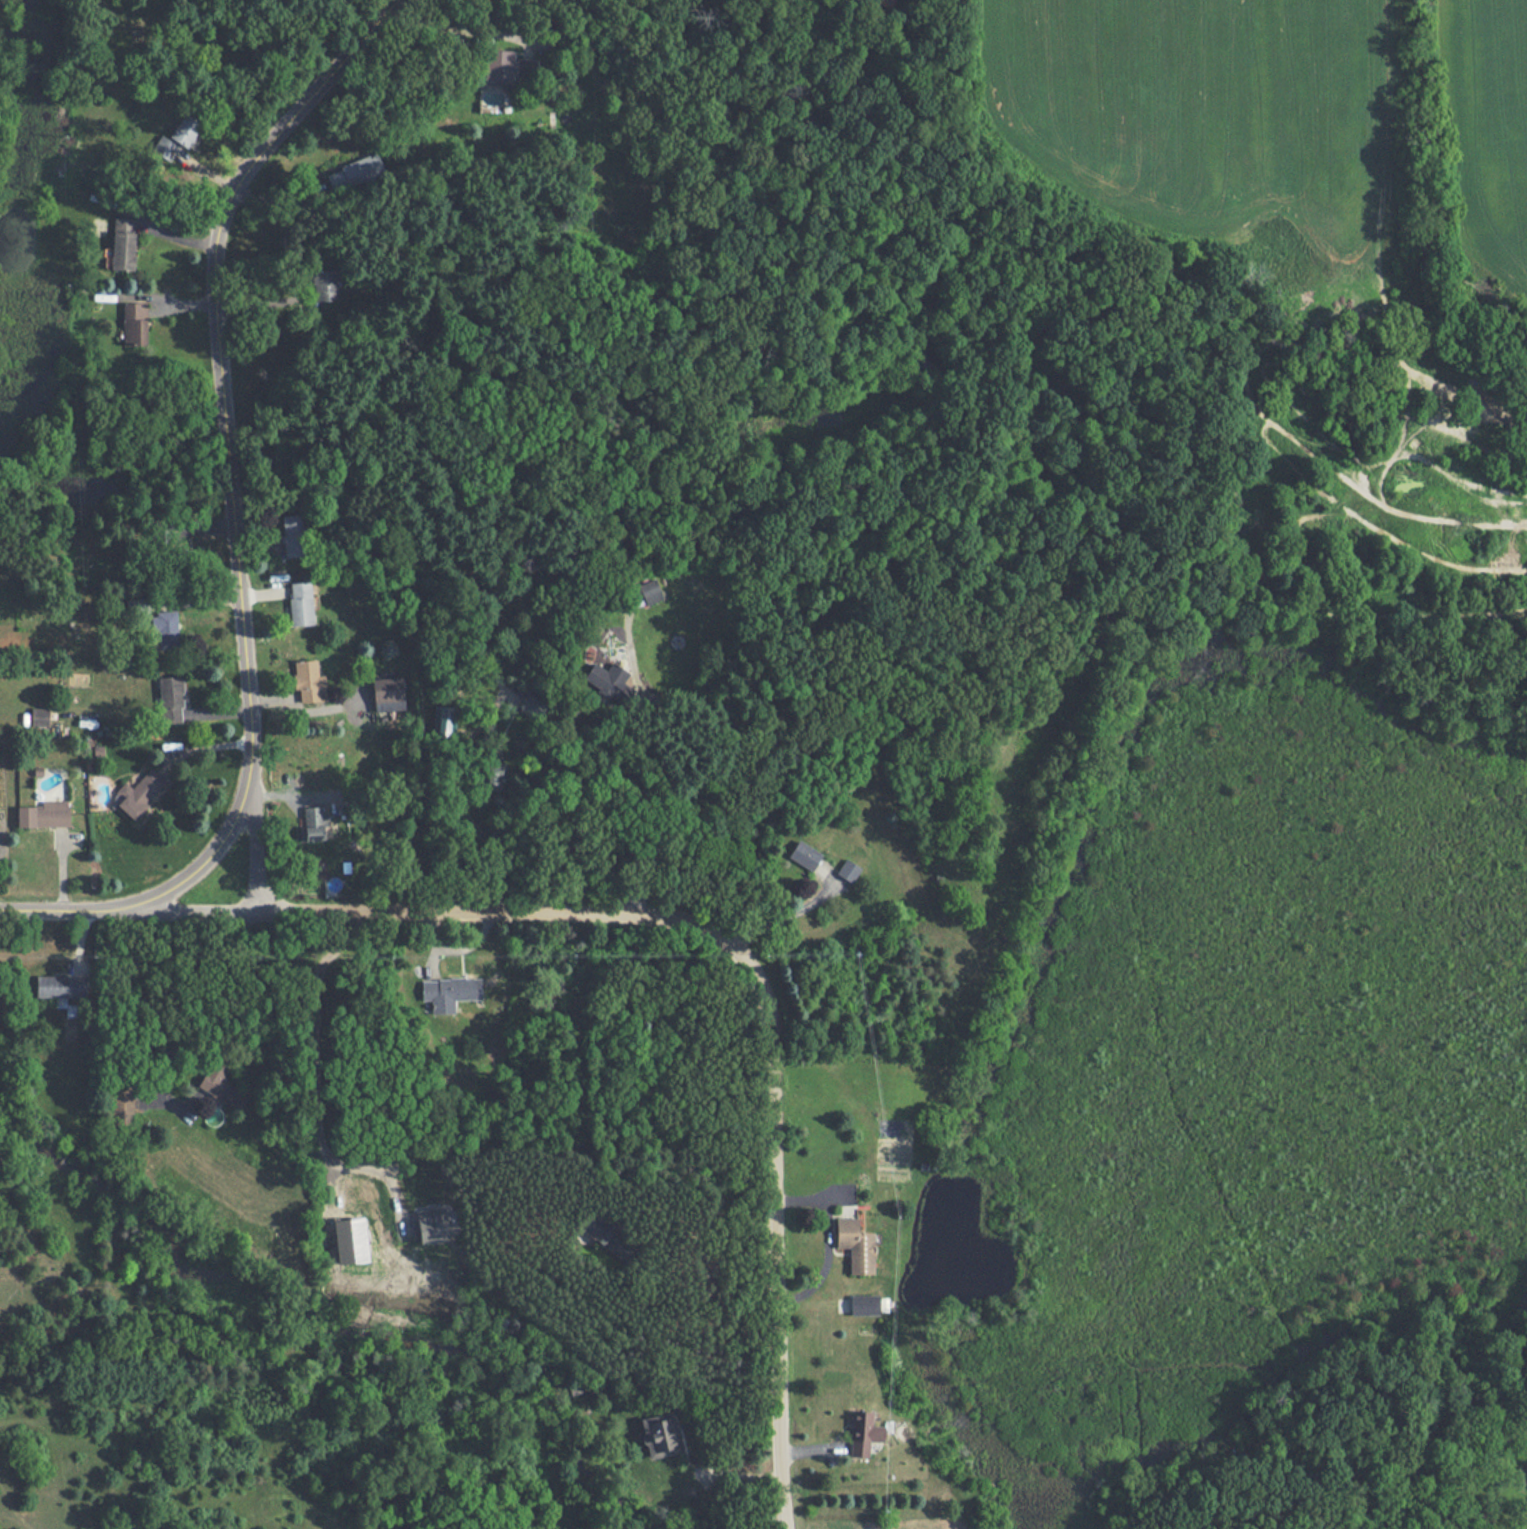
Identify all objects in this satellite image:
road: (456, 28)
building: (505, 64)
building: (184, 129)
building: (164, 147)
building: (354, 171)
building: (122, 243)
building: (324, 284)
building: (133, 323)
road: (217, 344)
building: (292, 534)
building: (649, 590)
building: (300, 602)
building: (164, 629)
building: (308, 680)
building: (608, 680)
building: (387, 691)
building: (170, 699)
building: (530, 705)
road: (303, 708)
building: (39, 716)
building: (442, 720)
road: (699, 772)
building: (493, 775)
building: (138, 793)
building: (43, 813)
building: (312, 823)
road: (255, 830)
road: (492, 849)
building: (803, 854)
building: (847, 869)
road: (169, 893)
road: (780, 927)
road: (721, 945)
building: (61, 987)
building: (449, 992)
road: (227, 1020)
building: (220, 1085)
road: (311, 1098)
building: (122, 1106)
building: (0, 1151)
building: (430, 1224)
building: (607, 1237)
road: (826, 1237)
building: (350, 1240)
building: (854, 1244)
building: (864, 1304)
building: (862, 1432)
building: (660, 1434)

